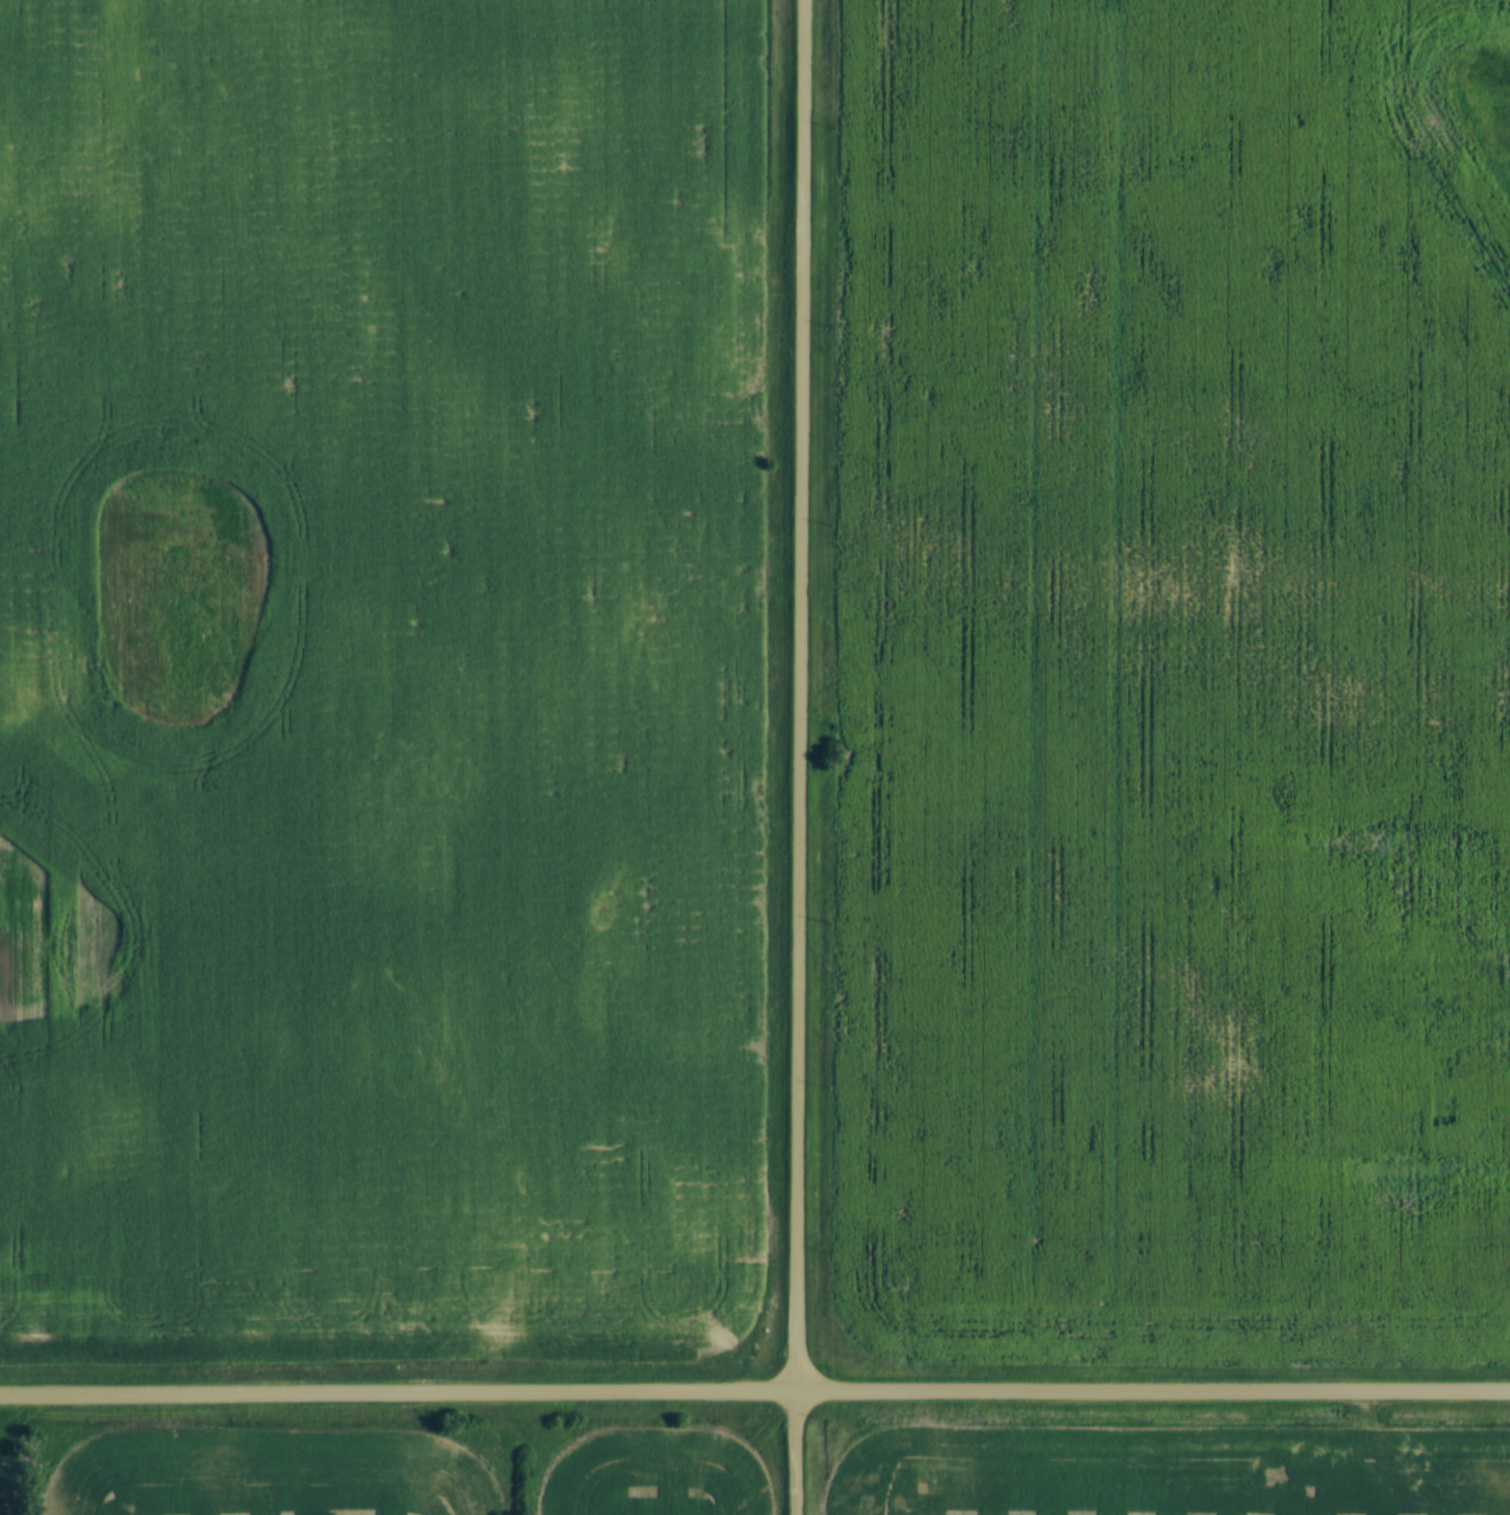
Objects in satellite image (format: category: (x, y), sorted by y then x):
road: (797, 757)
road: (755, 1390)

